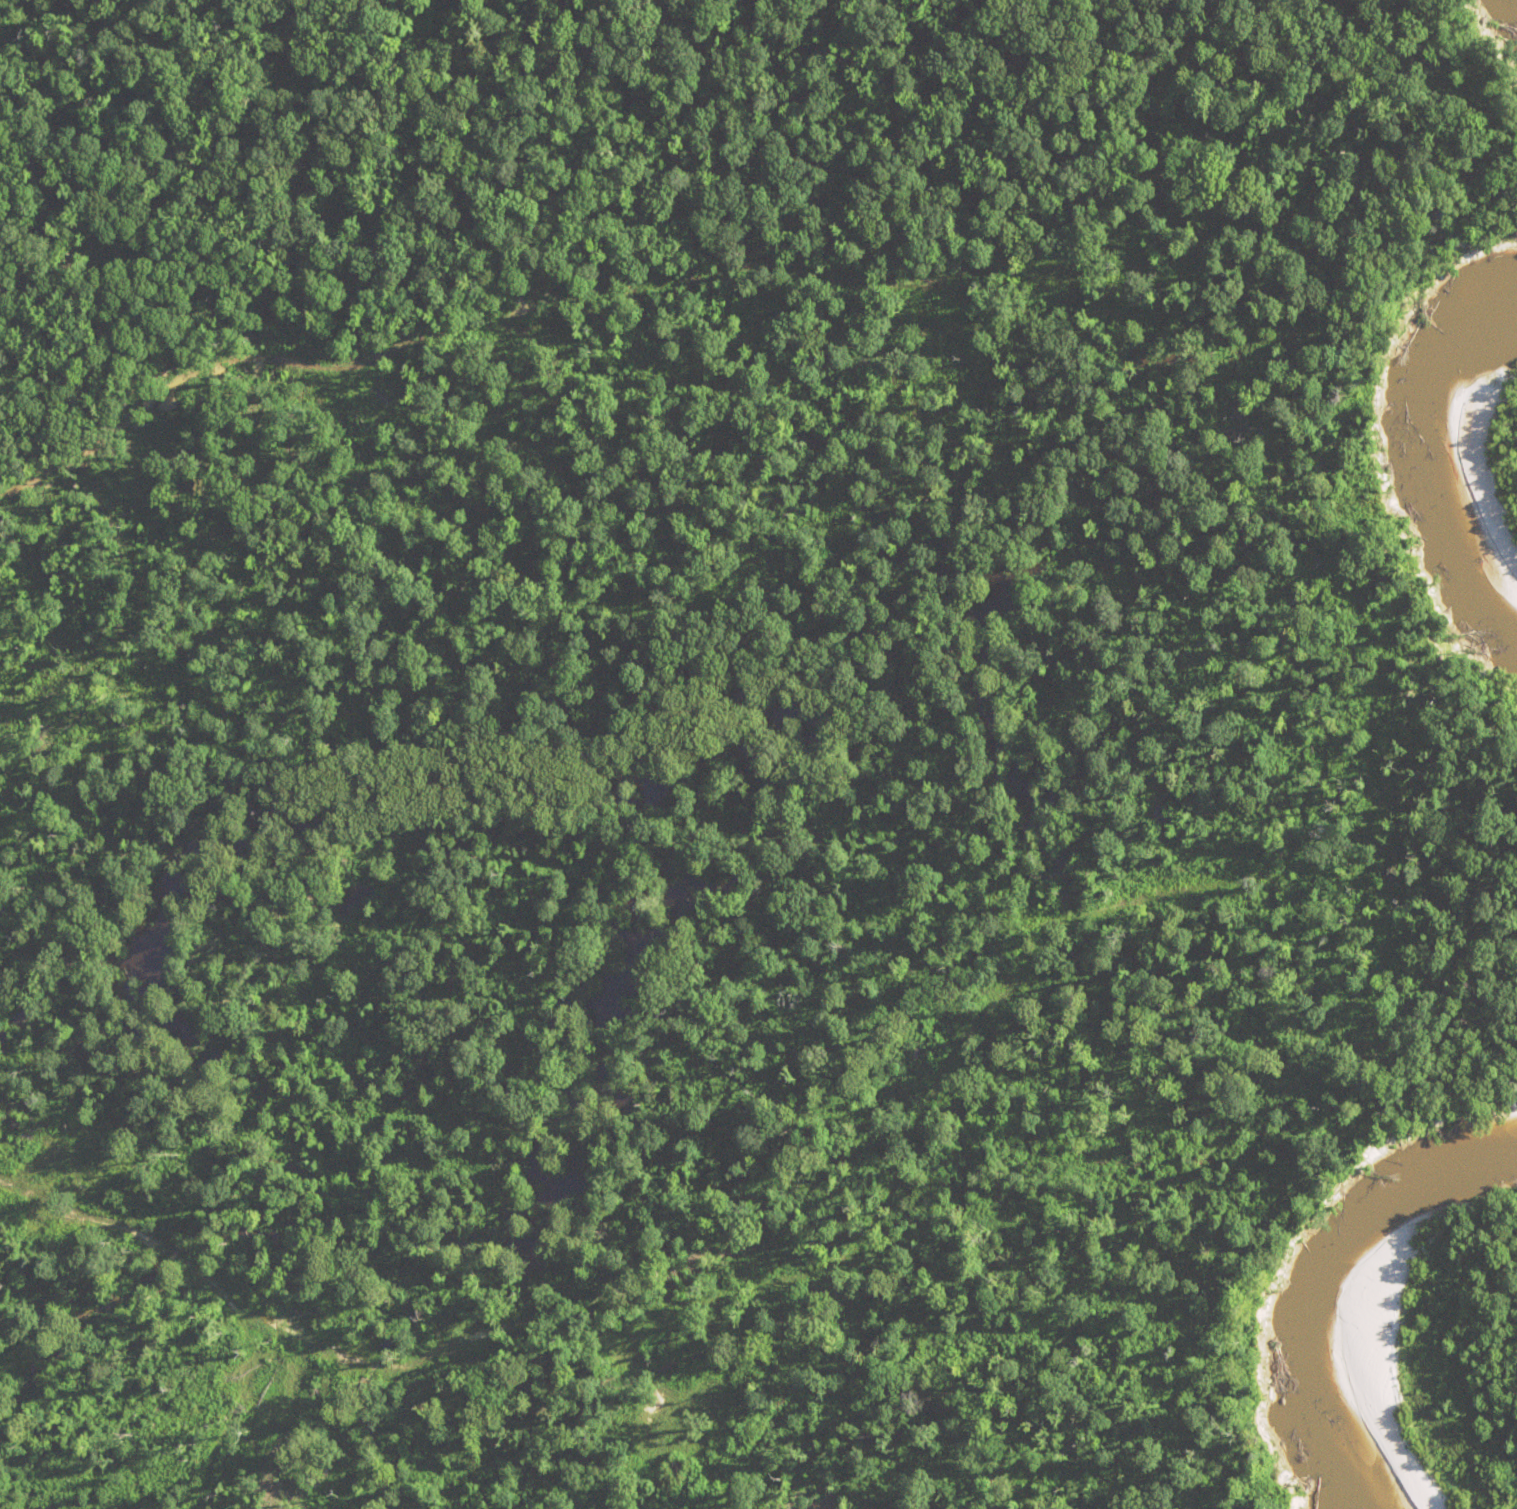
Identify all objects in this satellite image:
river: (1490, 424)
river: (1382, 1293)

